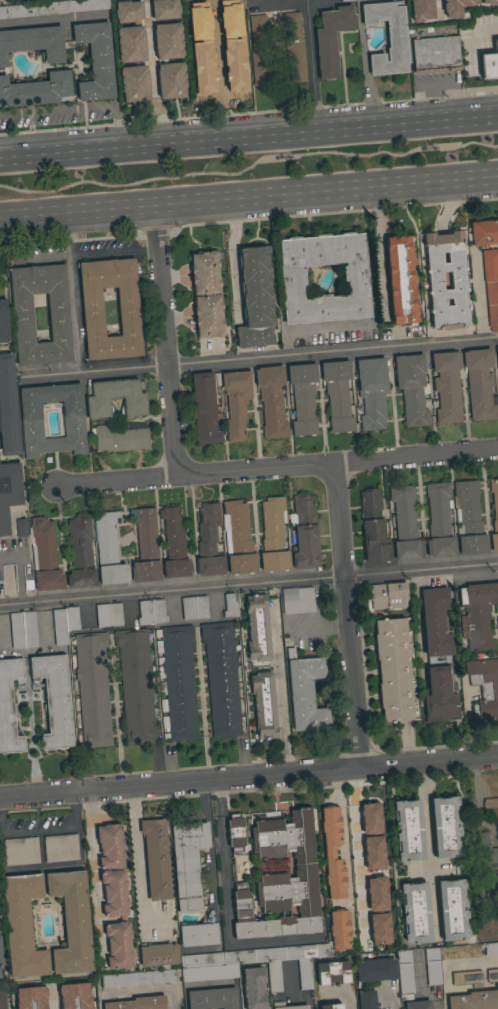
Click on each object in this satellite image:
building: (346, 0)
building: (488, 1)
road: (437, 2)
building: (455, 7)
building: (53, 8)
building: (164, 9)
building: (421, 10)
building: (127, 11)
building: (235, 23)
building: (194, 25)
building: (387, 37)
building: (331, 39)
building: (166, 41)
building: (33, 43)
building: (130, 44)
building: (496, 45)
building: (293, 46)
building: (259, 50)
building: (435, 55)
building: (95, 61)
building: (488, 66)
building: (238, 67)
road: (313, 70)
building: (199, 71)
road: (151, 78)
building: (170, 80)
building: (134, 83)
building: (36, 90)
road: (55, 110)
road: (114, 130)
road: (248, 142)
road: (248, 202)
building: (483, 232)
road: (378, 254)
road: (232, 262)
building: (356, 278)
building: (400, 280)
building: (457, 281)
building: (491, 286)
building: (206, 293)
building: (256, 298)
building: (128, 315)
building: (3, 322)
road: (316, 328)
road: (166, 343)
building: (497, 352)
road: (259, 358)
building: (479, 384)
building: (447, 386)
building: (412, 388)
building: (371, 392)
building: (337, 396)
building: (303, 398)
building: (97, 401)
building: (271, 401)
building: (236, 402)
building: (8, 407)
building: (205, 407)
building: (51, 419)
building: (119, 439)
road: (278, 468)
building: (8, 492)
building: (494, 514)
building: (468, 519)
building: (439, 521)
building: (405, 524)
building: (373, 527)
building: (21, 528)
building: (303, 533)
building: (273, 535)
building: (237, 538)
building: (208, 541)
building: (173, 543)
building: (146, 547)
building: (108, 550)
building: (80, 552)
building: (44, 555)
road: (17, 570)
road: (249, 584)
building: (386, 596)
building: (297, 600)
building: (230, 605)
building: (194, 608)
building: (151, 613)
road: (212, 613)
building: (477, 614)
building: (108, 615)
road: (347, 615)
road: (174, 616)
building: (435, 622)
building: (63, 624)
building: (257, 628)
building: (25, 631)
building: (393, 670)
building: (221, 678)
building: (176, 682)
building: (135, 685)
road: (279, 686)
building: (484, 687)
building: (92, 689)
building: (304, 692)
building: (440, 695)
building: (55, 701)
road: (201, 703)
building: (263, 704)
building: (10, 708)
road: (465, 722)
road: (248, 776)
road: (349, 785)
road: (217, 797)
road: (202, 798)
building: (491, 808)
building: (370, 818)
road: (55, 827)
building: (445, 827)
building: (408, 831)
building: (235, 833)
building: (110, 846)
road: (429, 846)
building: (60, 848)
building: (21, 851)
building: (332, 852)
road: (136, 853)
building: (373, 853)
building: (481, 853)
building: (155, 859)
road: (358, 862)
building: (187, 864)
road: (41, 865)
road: (92, 875)
building: (281, 880)
building: (488, 885)
building: (376, 893)
building: (452, 910)
building: (415, 913)
building: (122, 920)
building: (71, 922)
road: (226, 924)
building: (21, 926)
building: (379, 928)
building: (338, 930)
building: (198, 932)
building: (0, 947)
building: (157, 955)
building: (451, 958)
road: (448, 963)
building: (209, 970)
building: (375, 970)
building: (332, 973)
building: (405, 975)
building: (492, 975)
building: (138, 978)
building: (467, 978)
road: (211, 985)
building: (251, 989)
road: (148, 991)
building: (212, 998)
building: (2, 1000)
building: (366, 1000)
road: (52, 1001)
building: (474, 1001)
road: (7, 1003)
building: (138, 1003)
building: (34, 1004)
building: (417, 1004)
road: (347, 1005)
building: (69, 1006)
building: (301, 1006)
building: (330, 1006)
road: (395, 1006)

